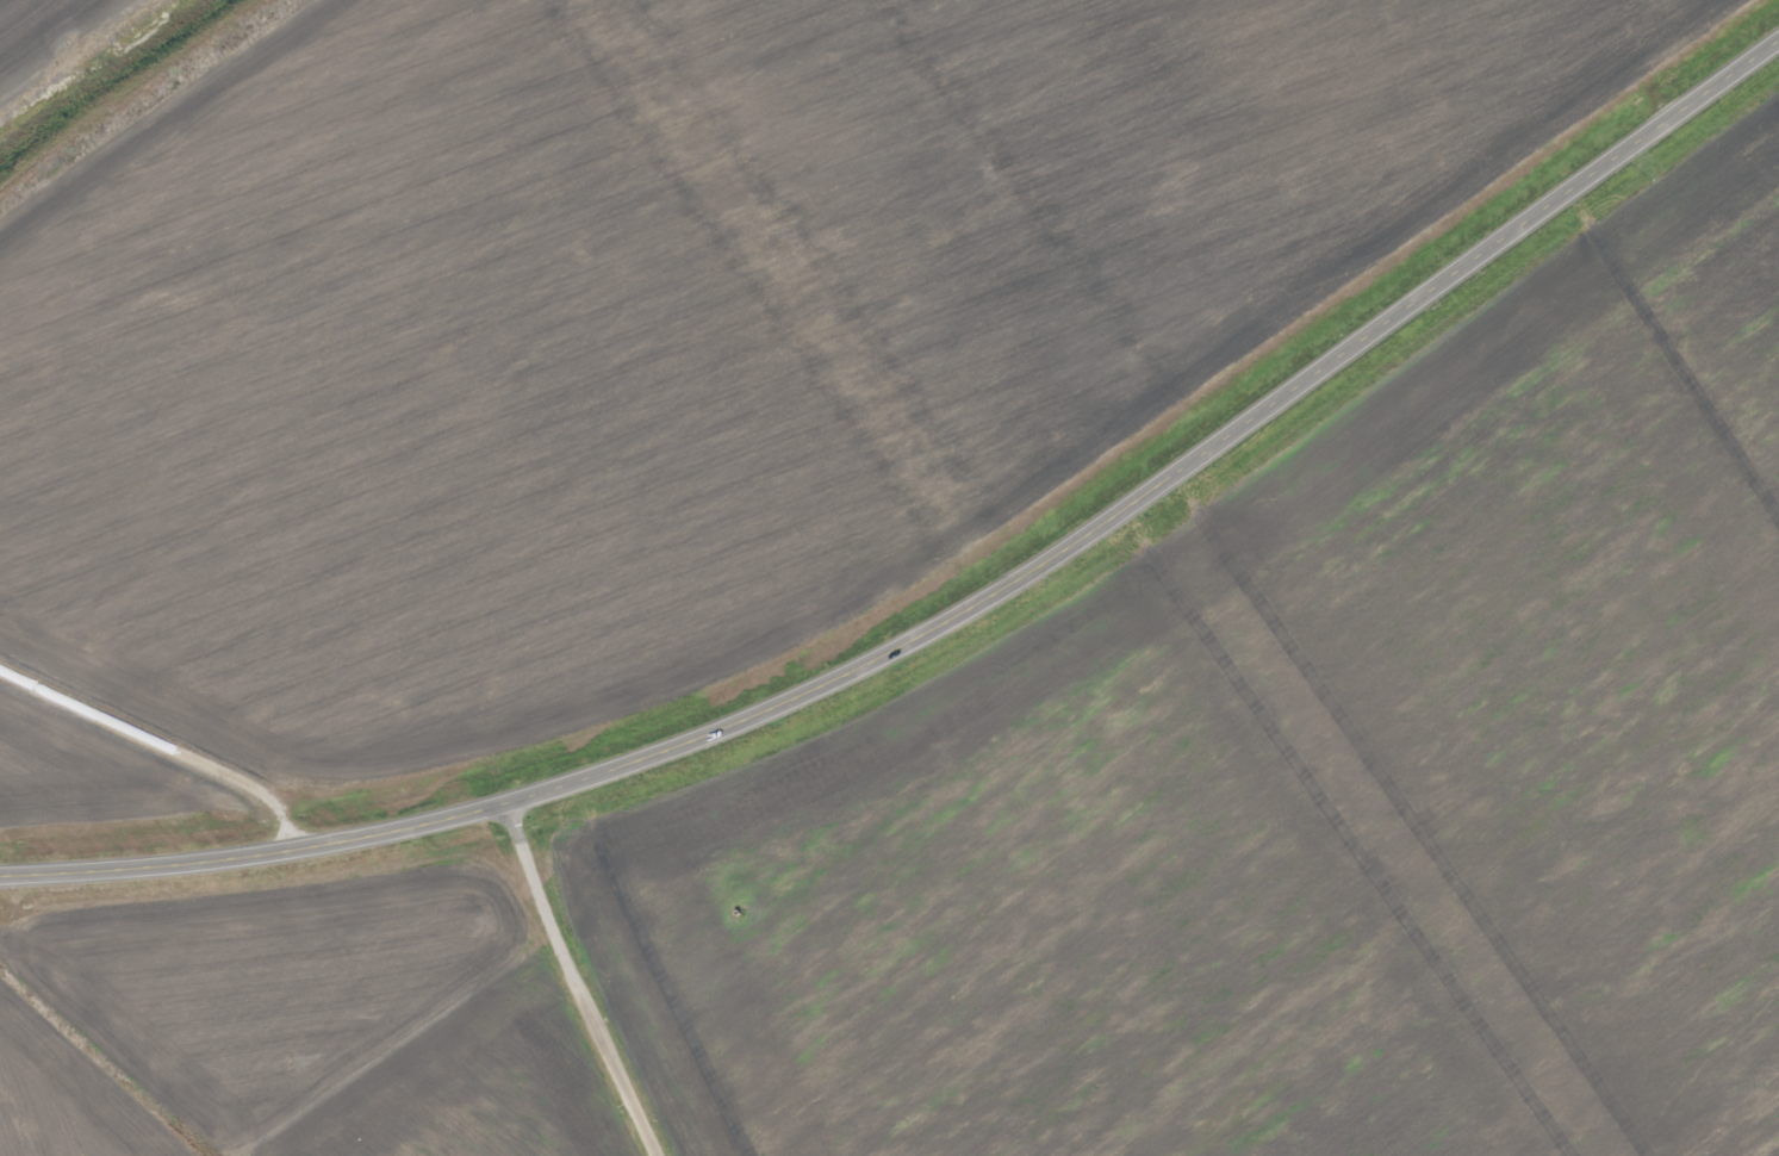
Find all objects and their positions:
road: (957, 615)
road: (167, 738)
road: (580, 982)

